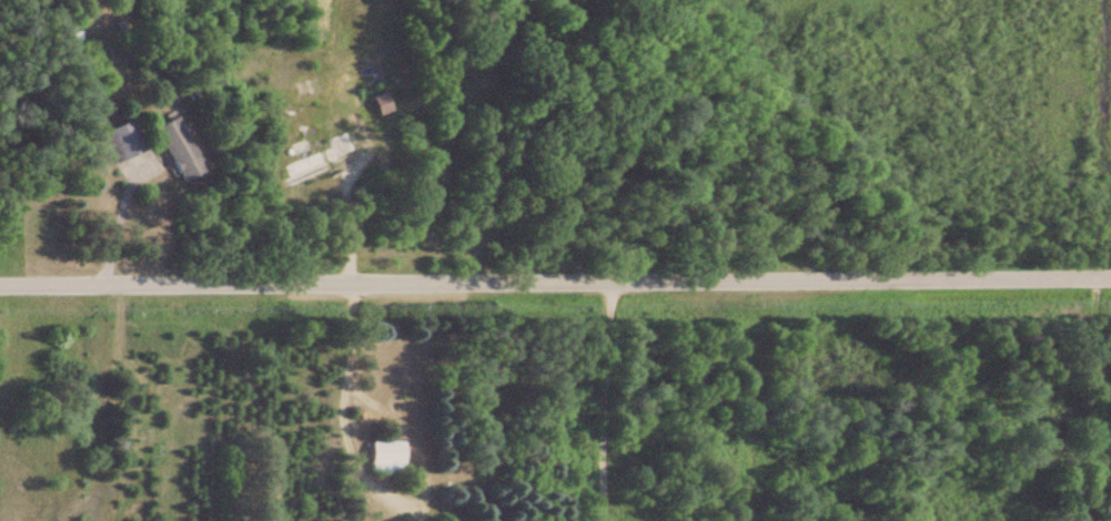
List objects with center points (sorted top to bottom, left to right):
building: (118, 141)
building: (174, 150)
building: (314, 161)
road: (555, 285)
road: (1103, 328)
road: (639, 403)
building: (382, 458)

